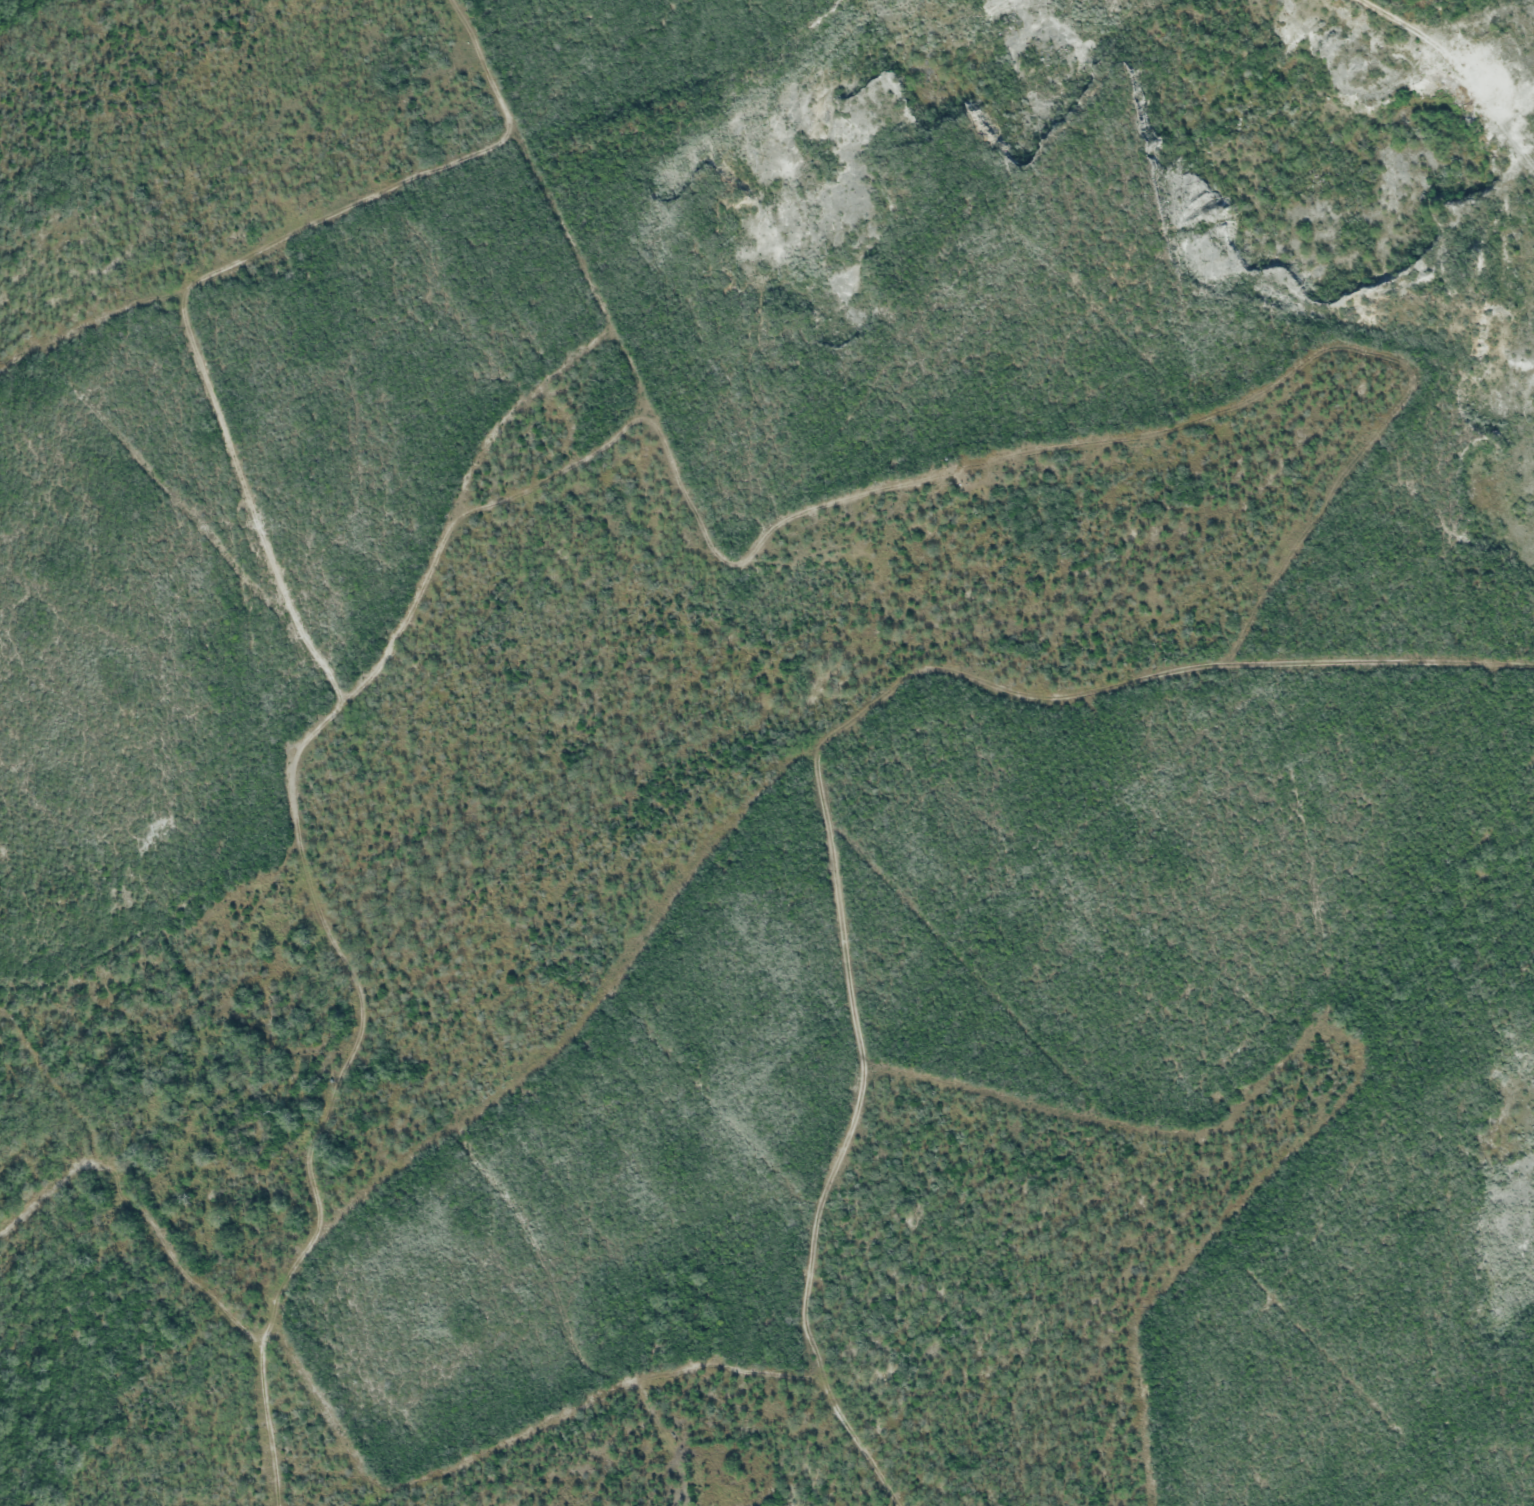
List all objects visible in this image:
road: (775, 744)
road: (134, 1027)

